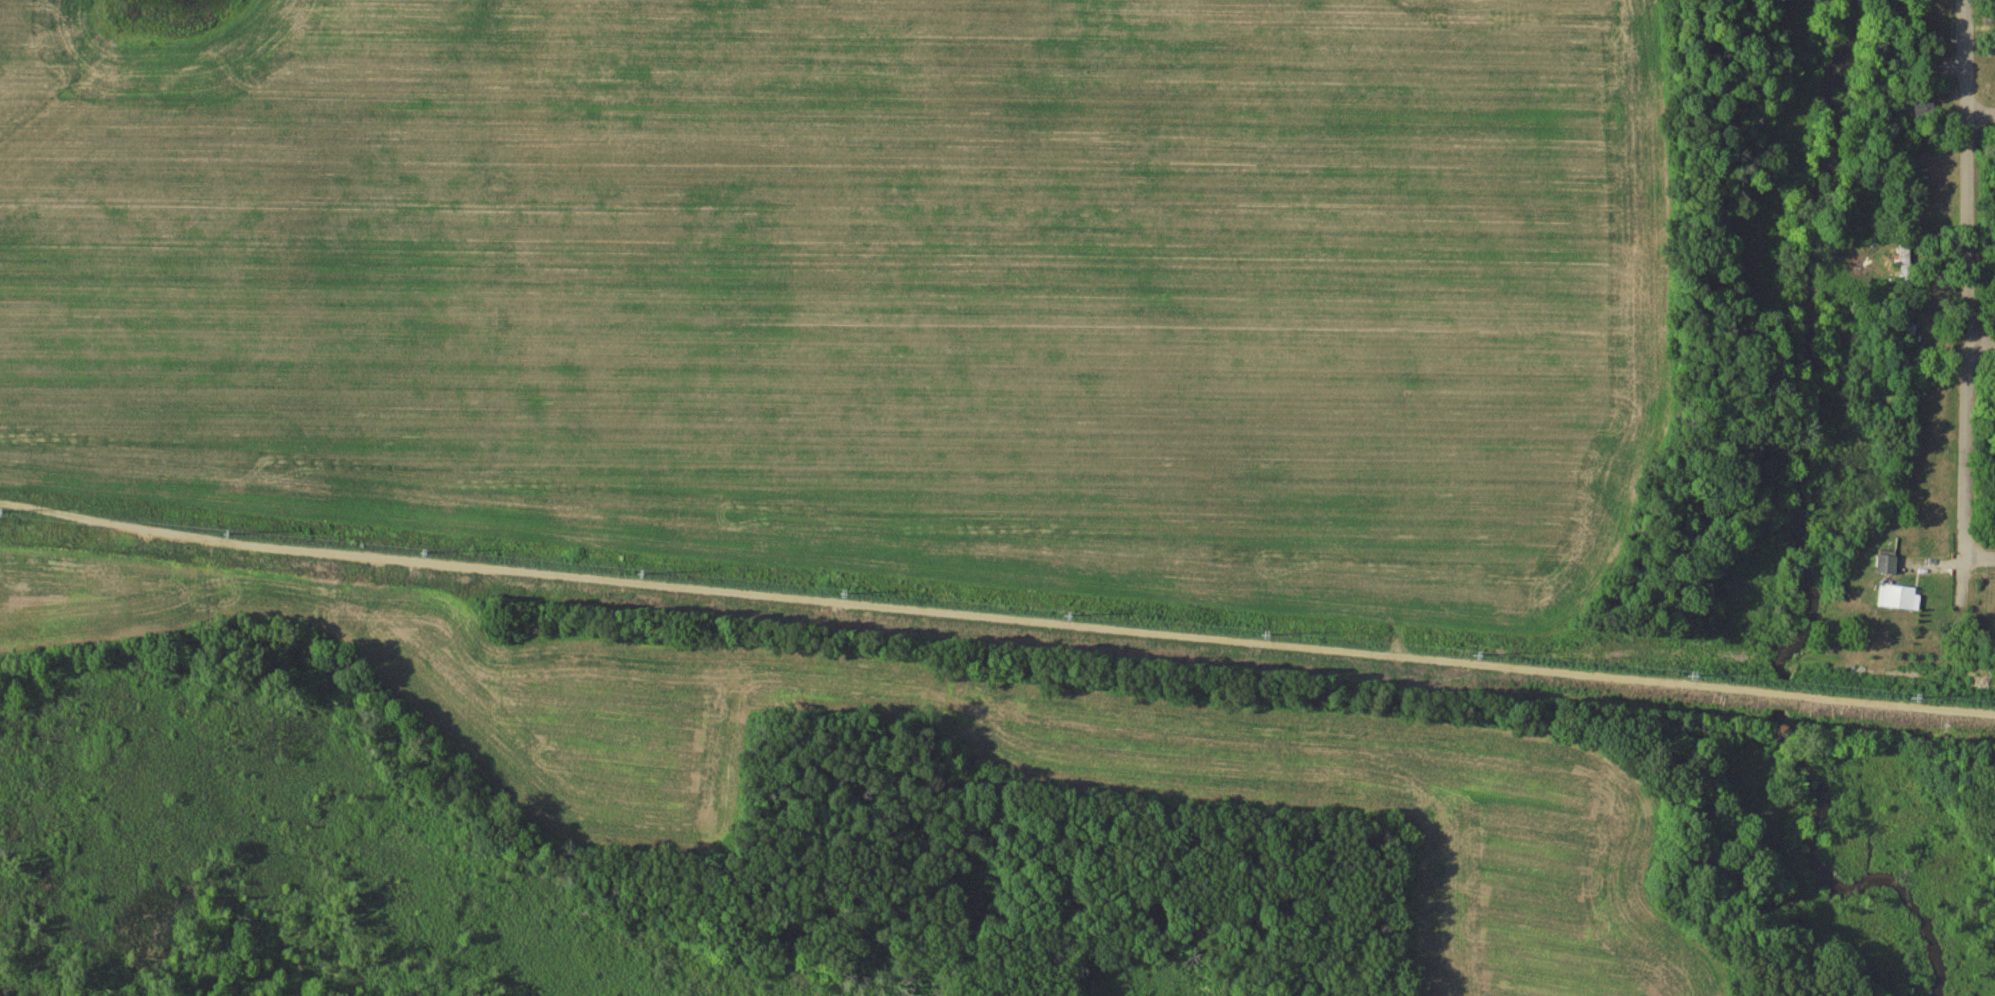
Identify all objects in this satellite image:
building: (1927, 109)
road: (1980, 113)
road: (1969, 306)
building: (1905, 331)
road: (1982, 340)
road: (1979, 556)
building: (1888, 565)
building: (1900, 598)

